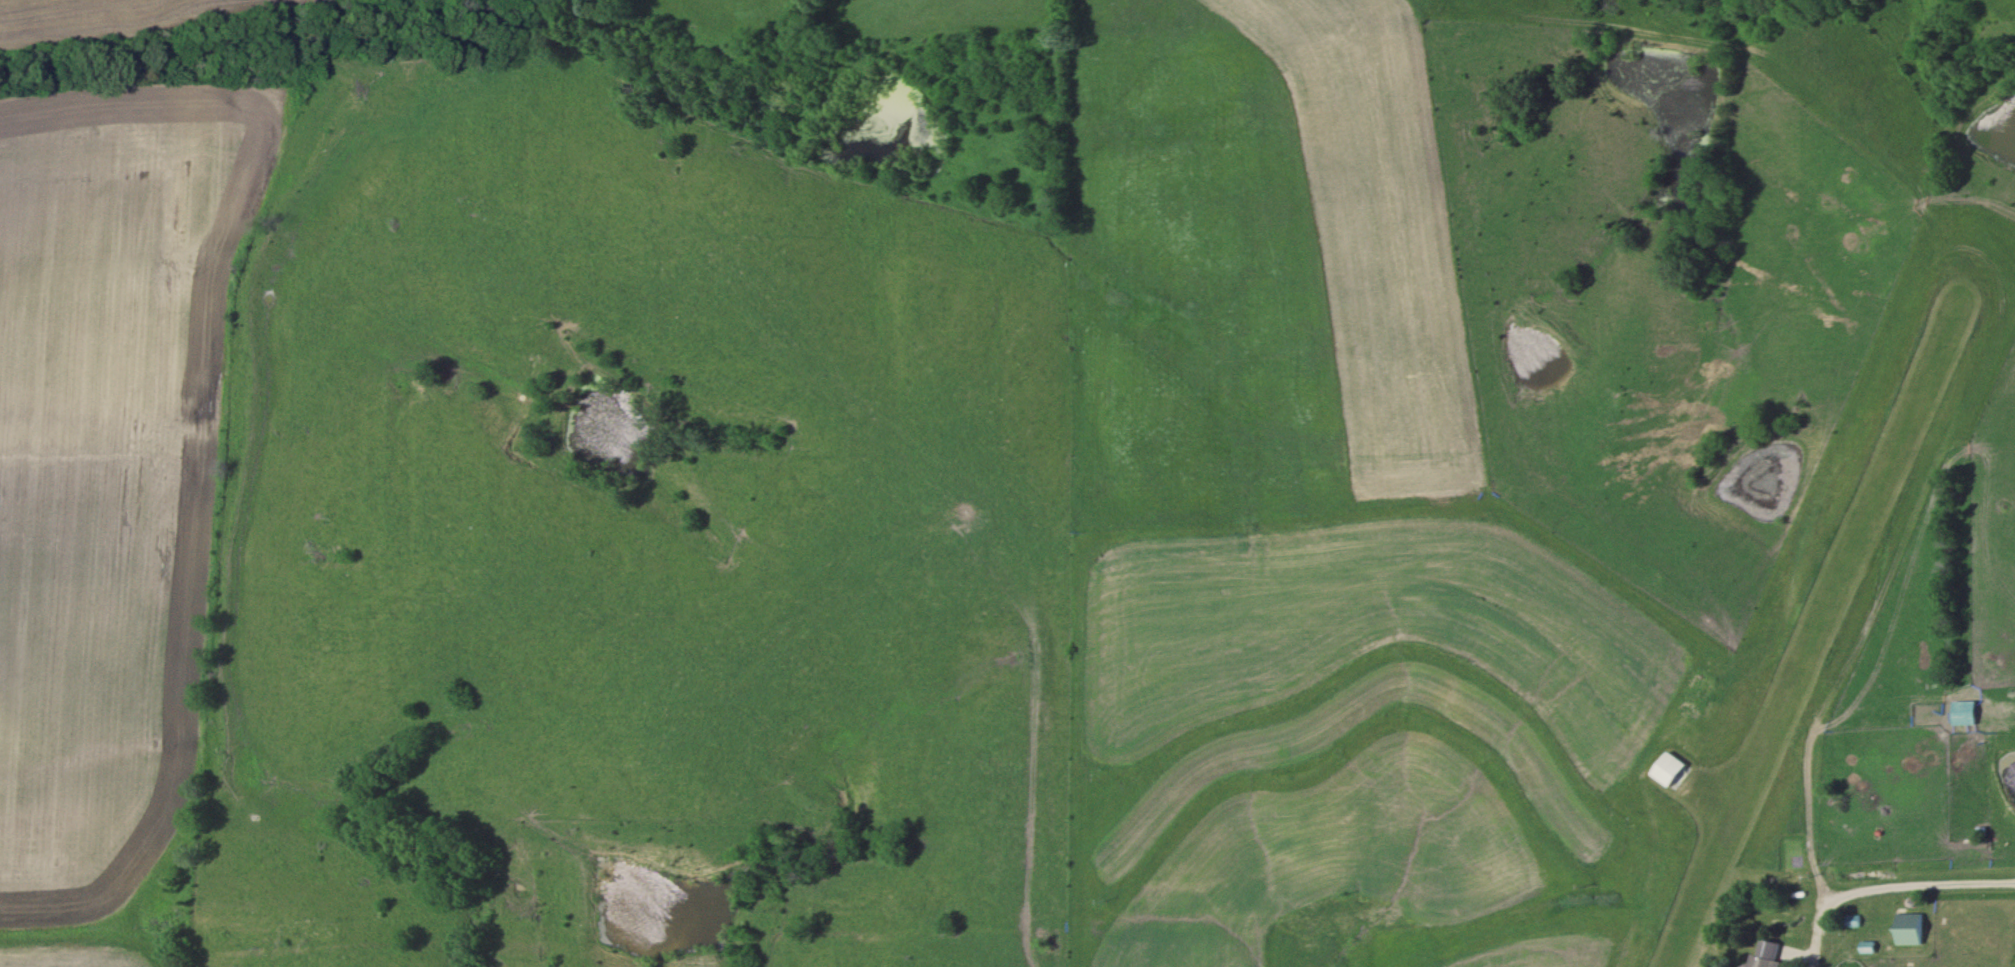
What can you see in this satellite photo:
building: (1959, 712)
building: (1672, 767)
road: (1946, 883)
building: (1904, 928)
building: (1759, 955)

